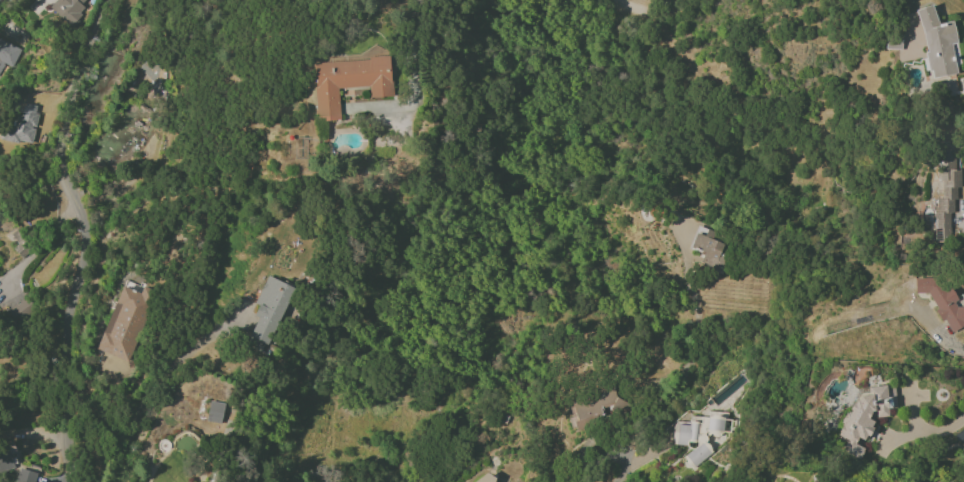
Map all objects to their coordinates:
road: (905, 2)
building: (68, 10)
building: (937, 43)
building: (7, 54)
building: (151, 72)
building: (348, 82)
building: (962, 87)
building: (21, 125)
building: (946, 187)
road: (76, 233)
building: (22, 235)
road: (36, 246)
building: (711, 252)
building: (941, 300)
building: (268, 312)
building: (122, 324)
road: (941, 336)
building: (592, 408)
building: (214, 411)
building: (864, 416)
road: (941, 430)
building: (702, 436)
building: (5, 461)
building: (25, 476)
building: (817, 480)

